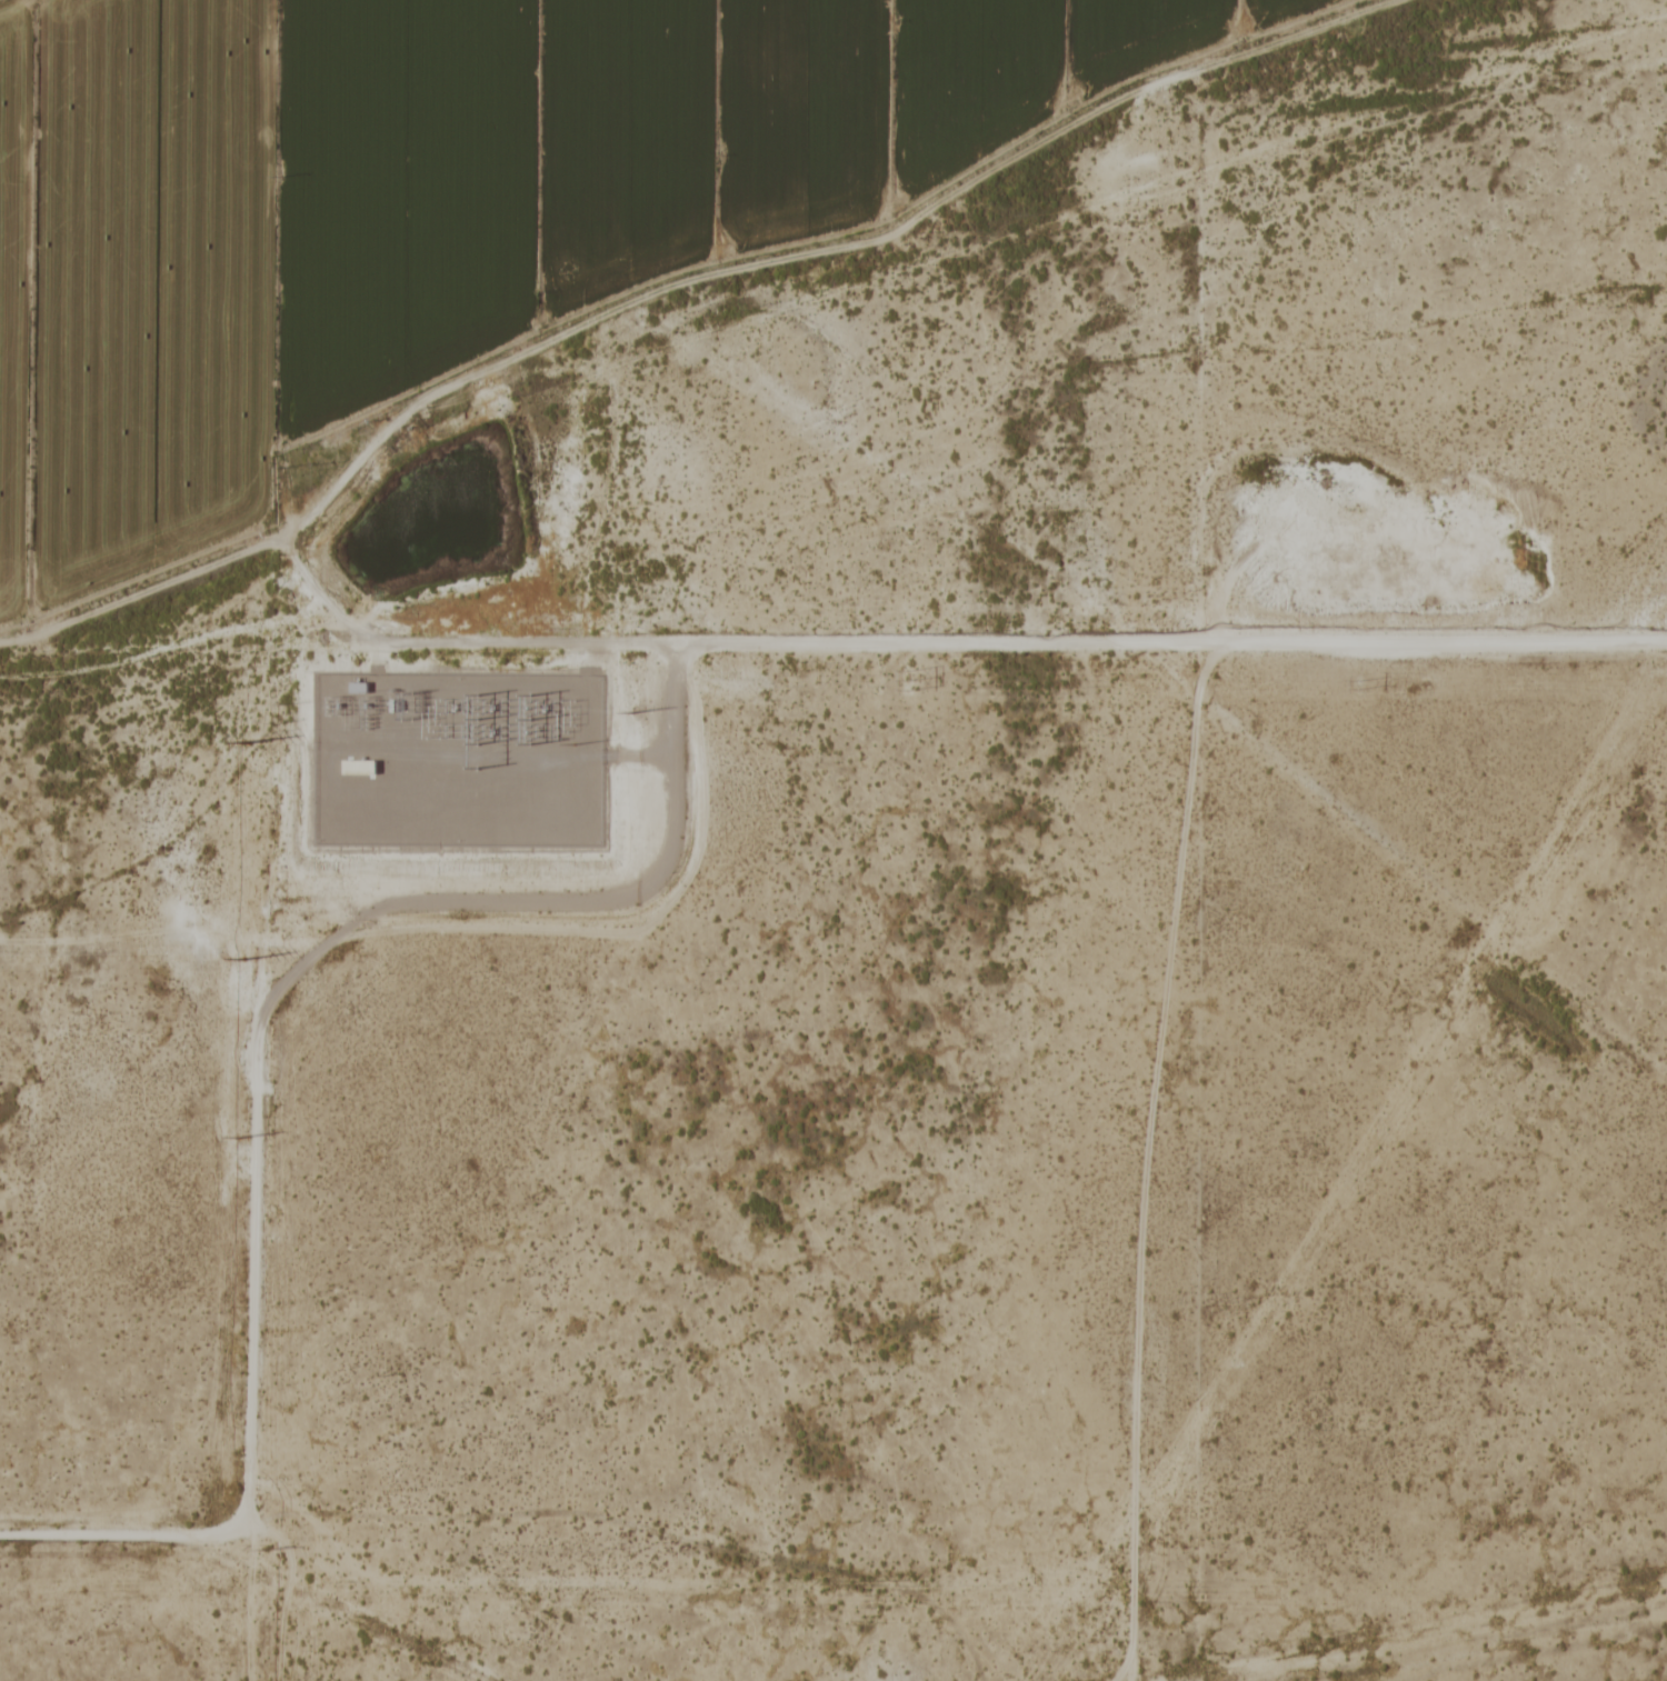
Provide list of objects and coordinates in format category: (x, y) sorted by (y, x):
road: (1164, 642)
power tower: (901, 680)
power tower: (1354, 684)
power tower: (481, 703)
power tower: (280, 706)
power tower: (272, 724)
power tower: (278, 898)
road: (1166, 944)
road: (250, 1064)
power tower: (267, 1237)
power tower: (261, 1545)
road: (1124, 1661)
road: (1131, 1661)

